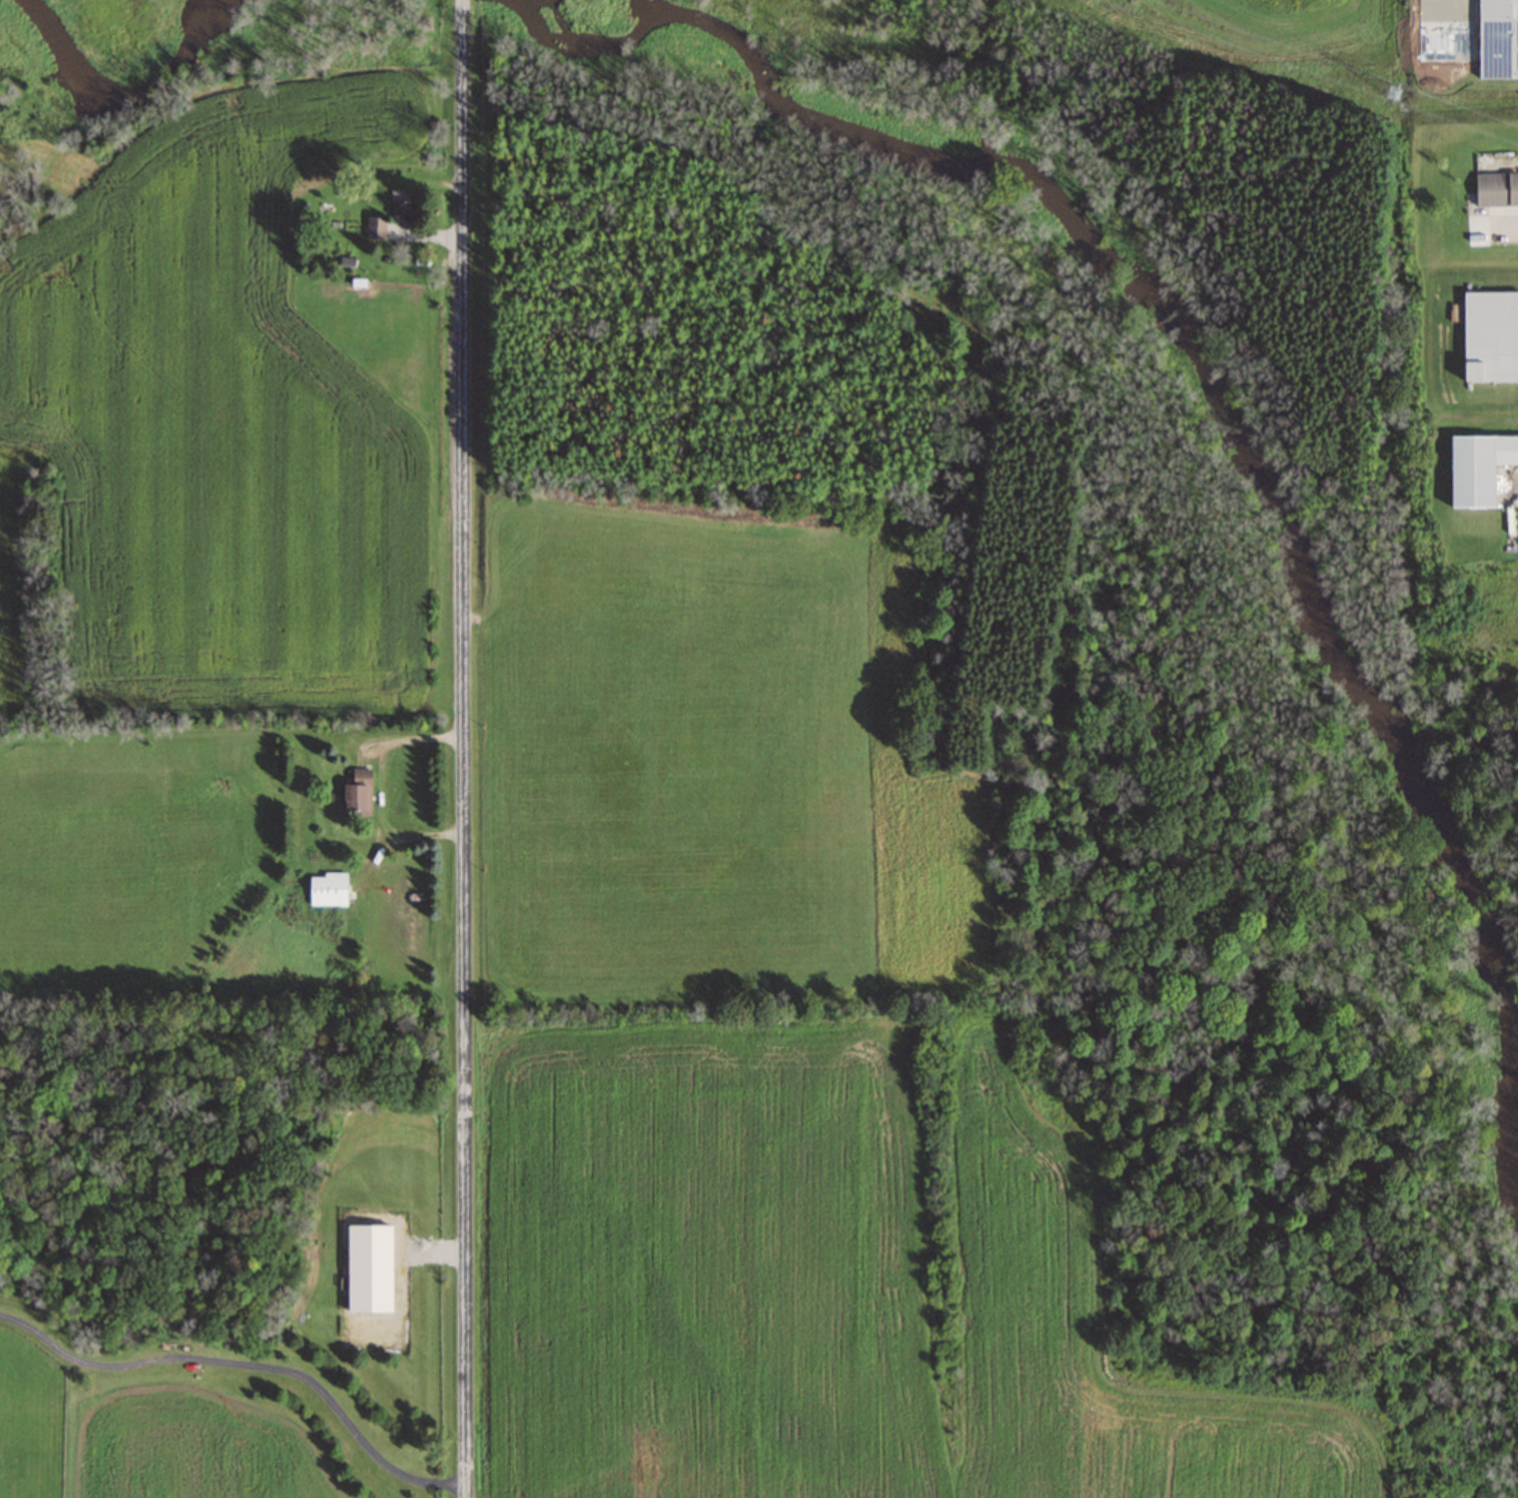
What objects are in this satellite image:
building: (1497, 39)
river: (139, 84)
power tower: (1393, 91)
building: (1496, 188)
building: (401, 210)
building: (376, 227)
building: (1490, 336)
river: (1215, 345)
building: (1477, 466)
road: (463, 748)
building: (357, 792)
building: (327, 889)
road: (245, 1361)

